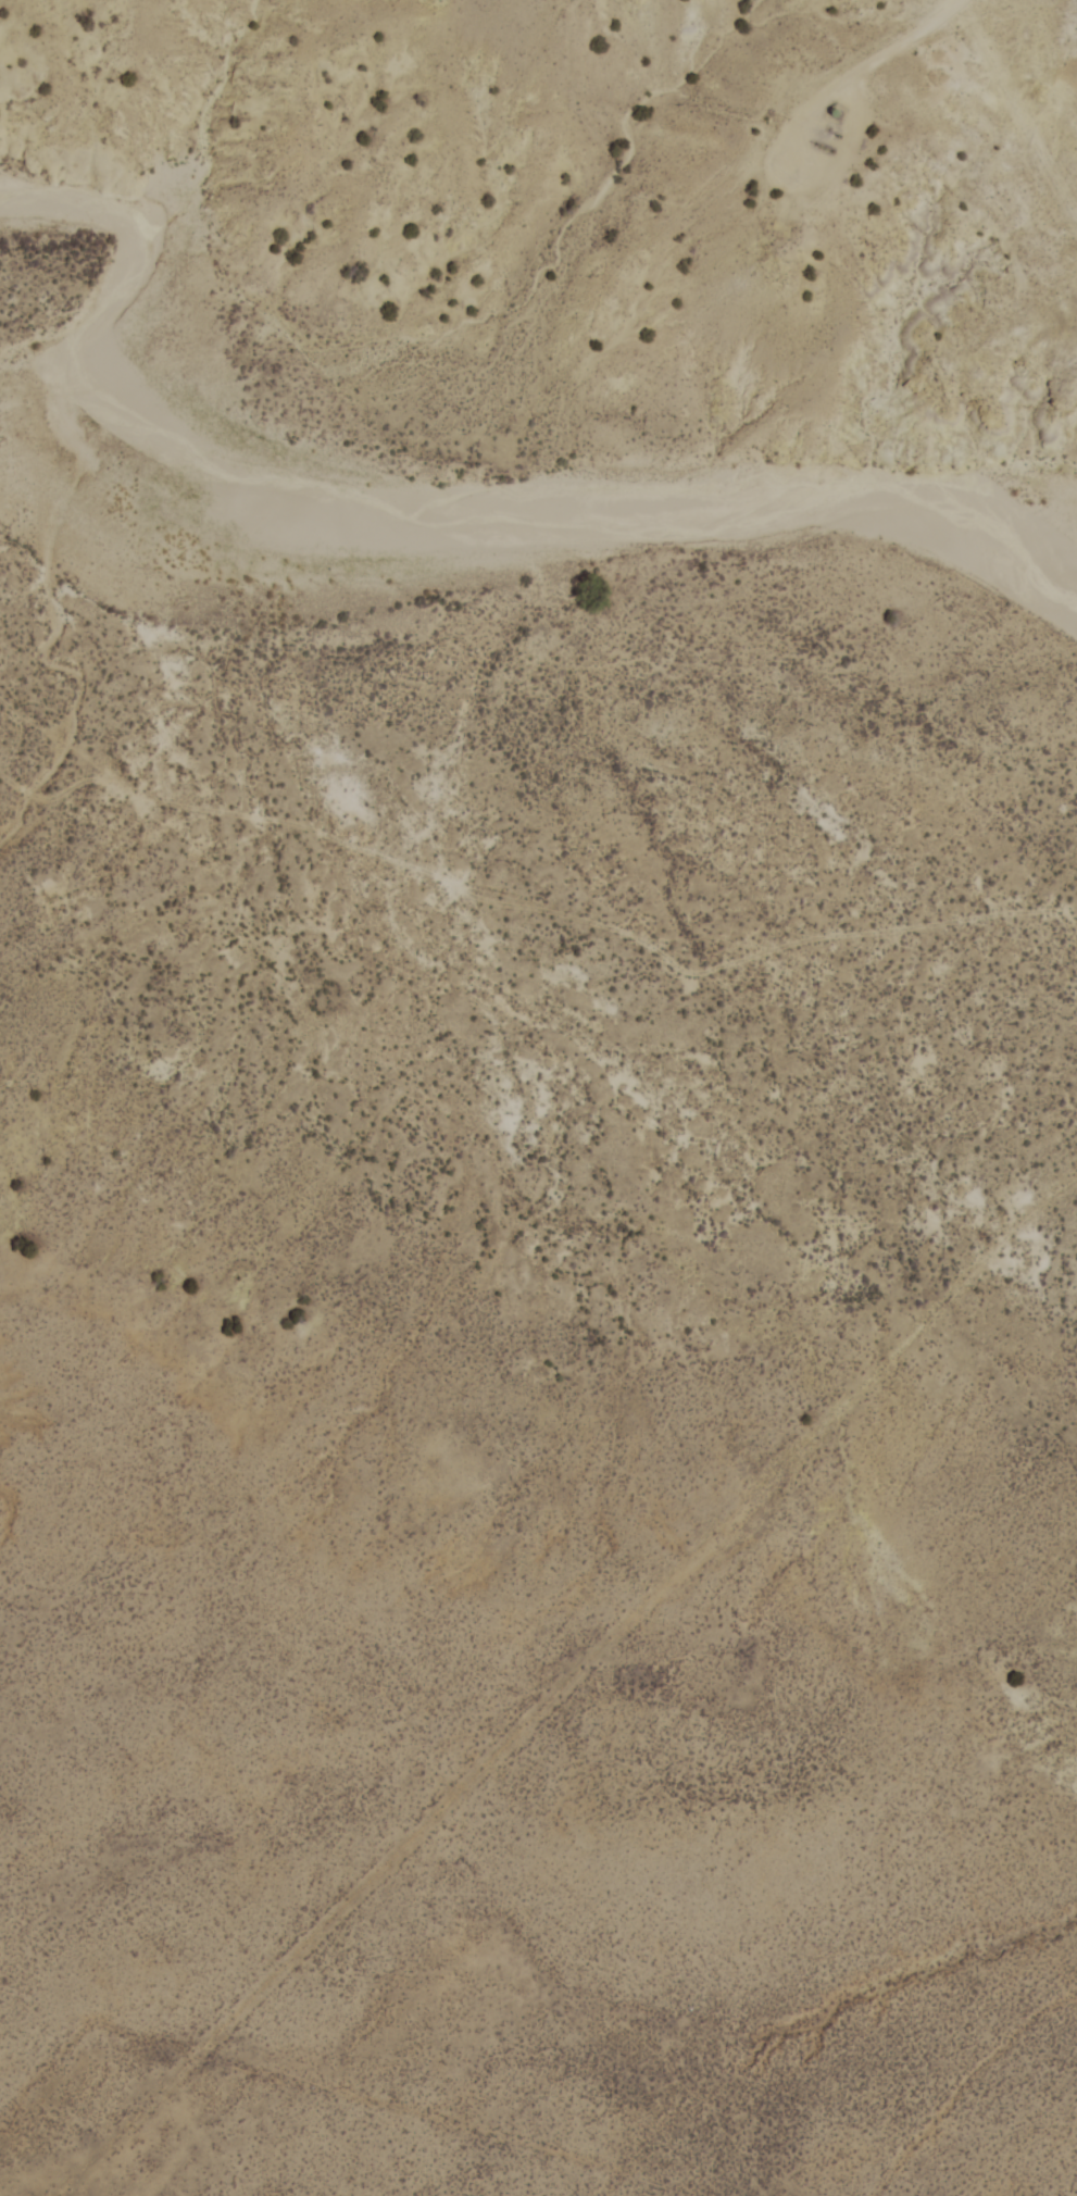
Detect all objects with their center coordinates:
river: (424, 519)

